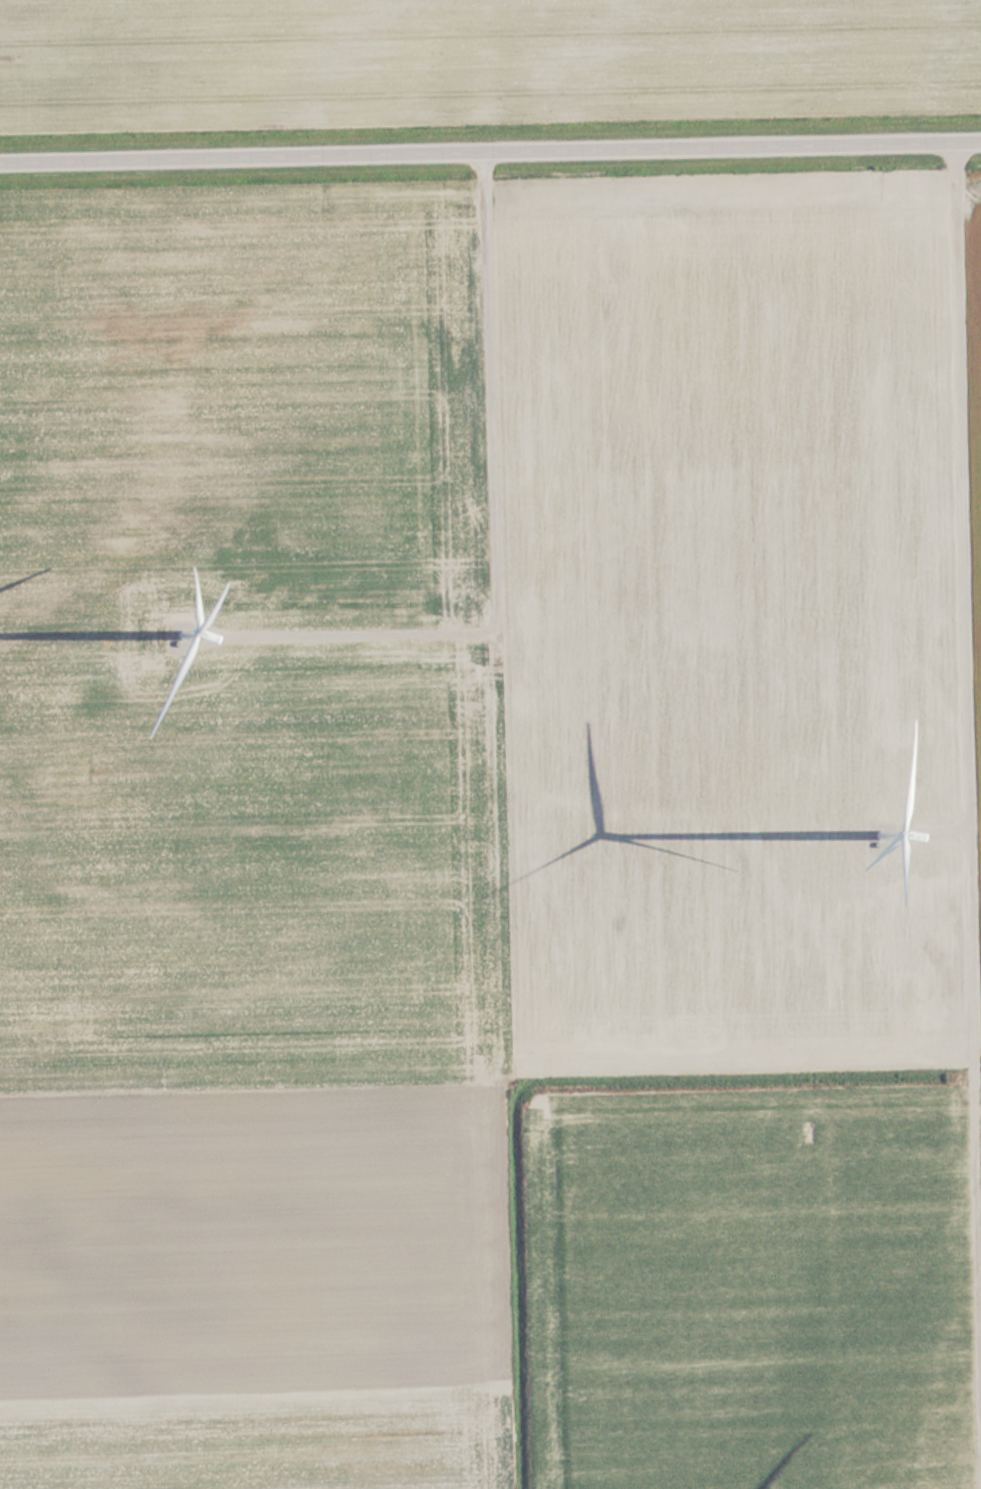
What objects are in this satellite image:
road: (490, 152)
road: (491, 526)
wind turbine: (186, 617)
road: (968, 658)
wind turbine: (876, 825)

